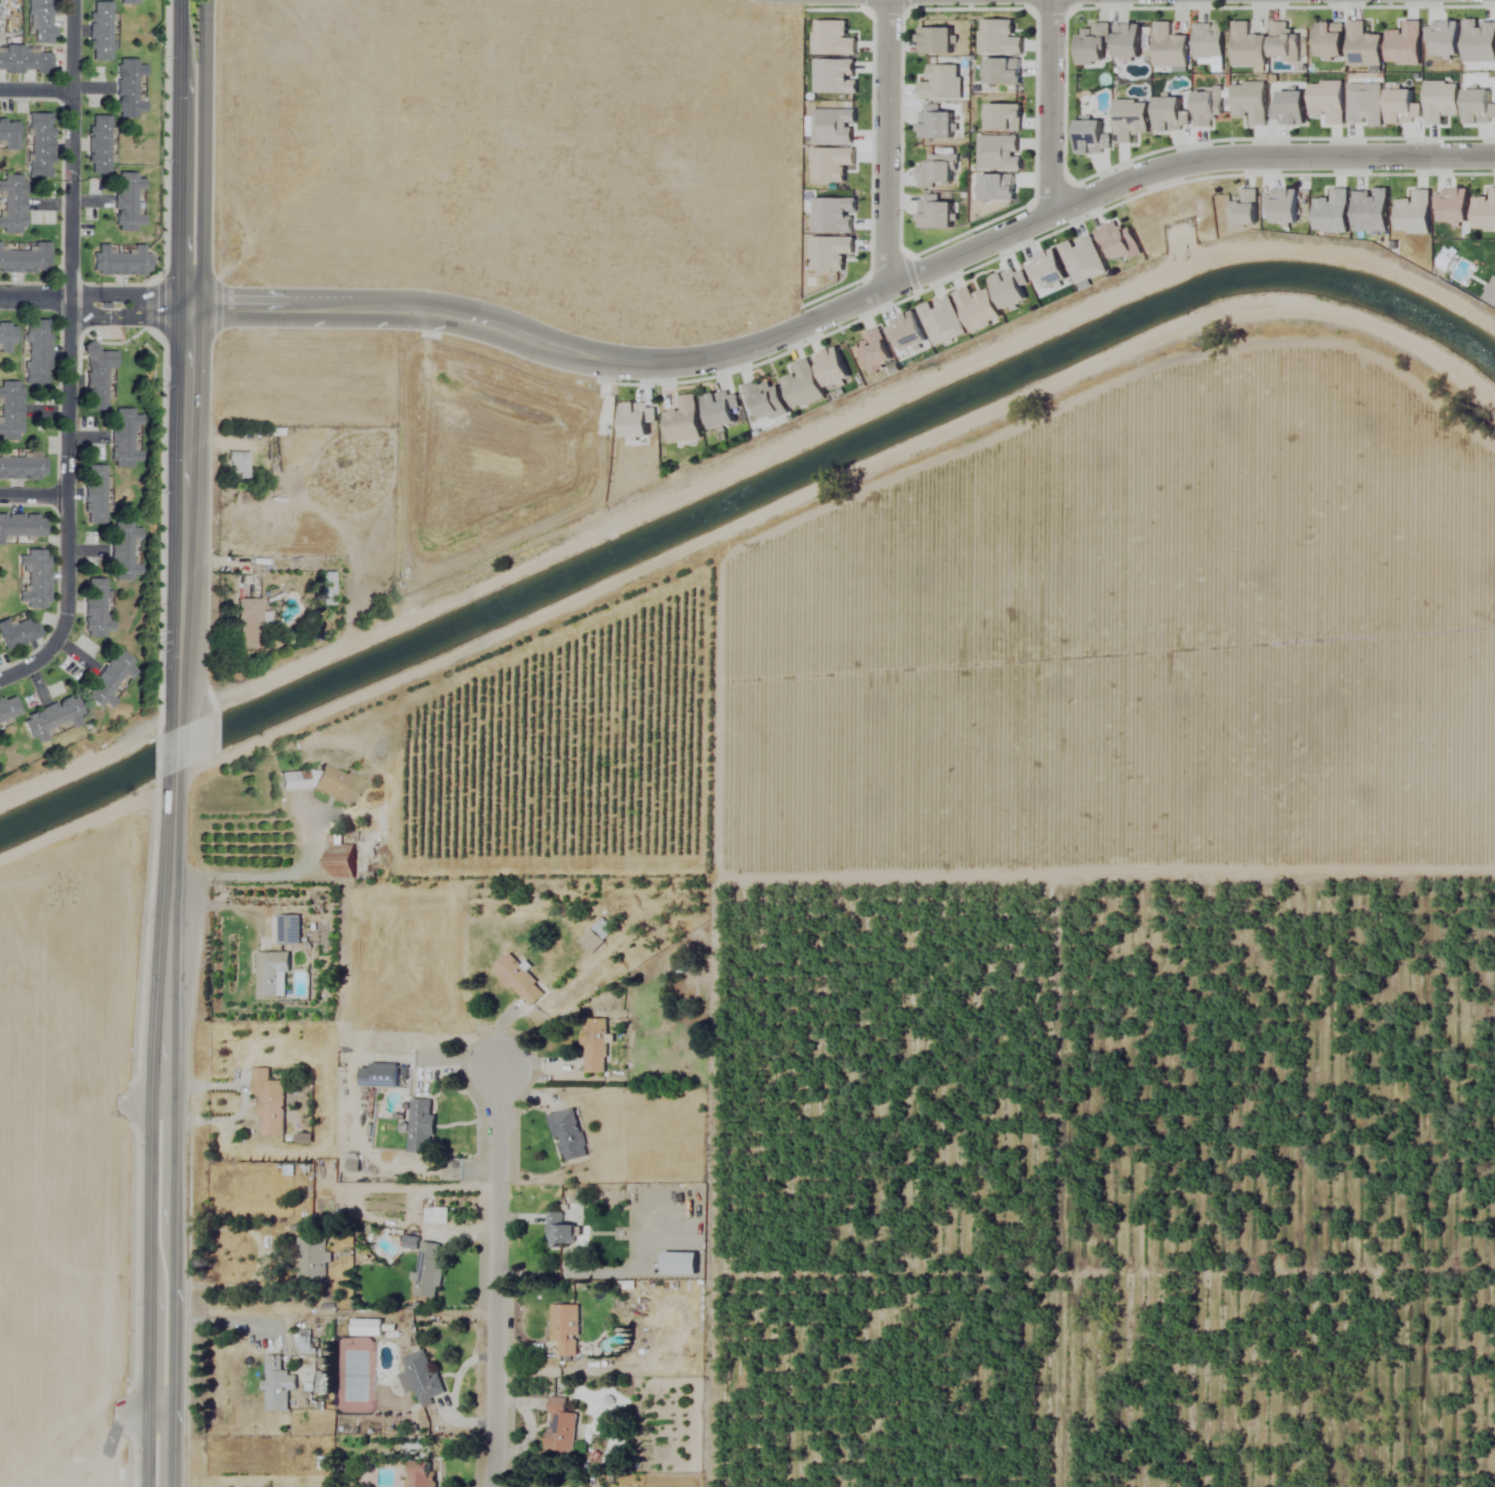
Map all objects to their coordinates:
building: (127, 2)
building: (41, 21)
building: (99, 32)
building: (1129, 40)
building: (1331, 40)
building: (1209, 41)
building: (1285, 43)
building: (1094, 44)
building: (1249, 46)
building: (1365, 46)
building: (1170, 47)
building: (23, 60)
building: (129, 89)
road: (37, 91)
road: (1051, 110)
building: (8, 134)
building: (38, 145)
building: (98, 145)
road: (885, 146)
road: (176, 154)
road: (201, 154)
building: (127, 202)
building: (11, 204)
building: (26, 260)
building: (120, 261)
road: (92, 307)
road: (846, 307)
building: (7, 337)
building: (37, 352)
road: (70, 356)
building: (97, 376)
building: (767, 401)
building: (723, 410)
building: (10, 411)
building: (684, 422)
building: (631, 425)
building: (125, 438)
building: (238, 466)
building: (23, 467)
building: (95, 495)
road: (33, 497)
road: (184, 516)
building: (22, 526)
building: (124, 552)
building: (34, 580)
building: (327, 589)
building: (95, 610)
building: (249, 623)
building: (17, 634)
building: (110, 680)
building: (8, 708)
building: (52, 718)
road: (175, 751)
building: (324, 783)
building: (340, 858)
road: (254, 875)
building: (289, 929)
road: (166, 931)
building: (596, 935)
building: (271, 973)
building: (520, 982)
building: (594, 1046)
building: (380, 1076)
building: (269, 1102)
building: (421, 1127)
building: (568, 1135)
crop: (67, 1163)
building: (352, 1164)
building: (559, 1231)
building: (313, 1259)
building: (429, 1270)
road: (497, 1276)
road: (148, 1284)
road: (175, 1285)
road: (230, 1322)
building: (565, 1329)
building: (420, 1376)
building: (277, 1385)
road: (160, 1405)
building: (561, 1427)
building: (423, 1474)

